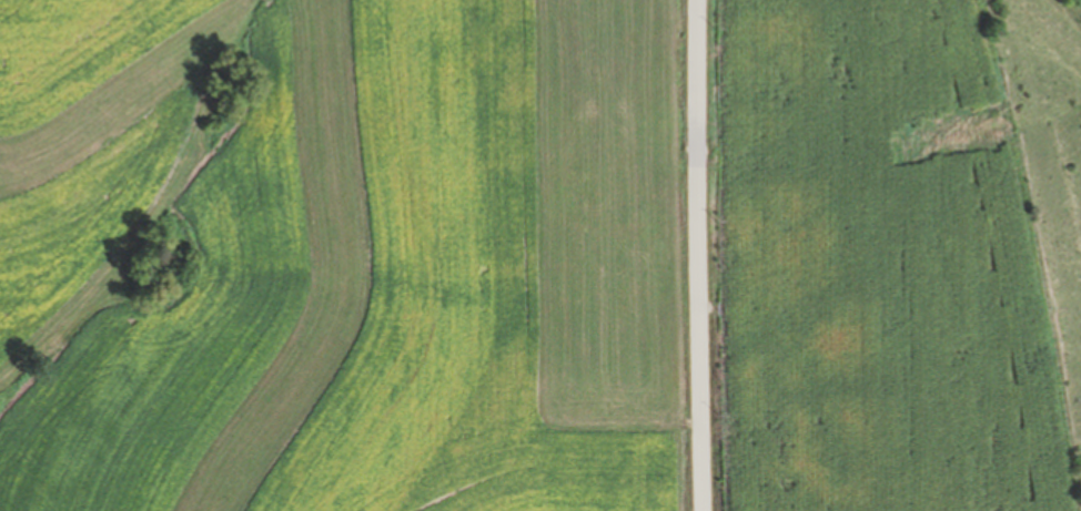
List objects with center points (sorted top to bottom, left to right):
road: (698, 255)

